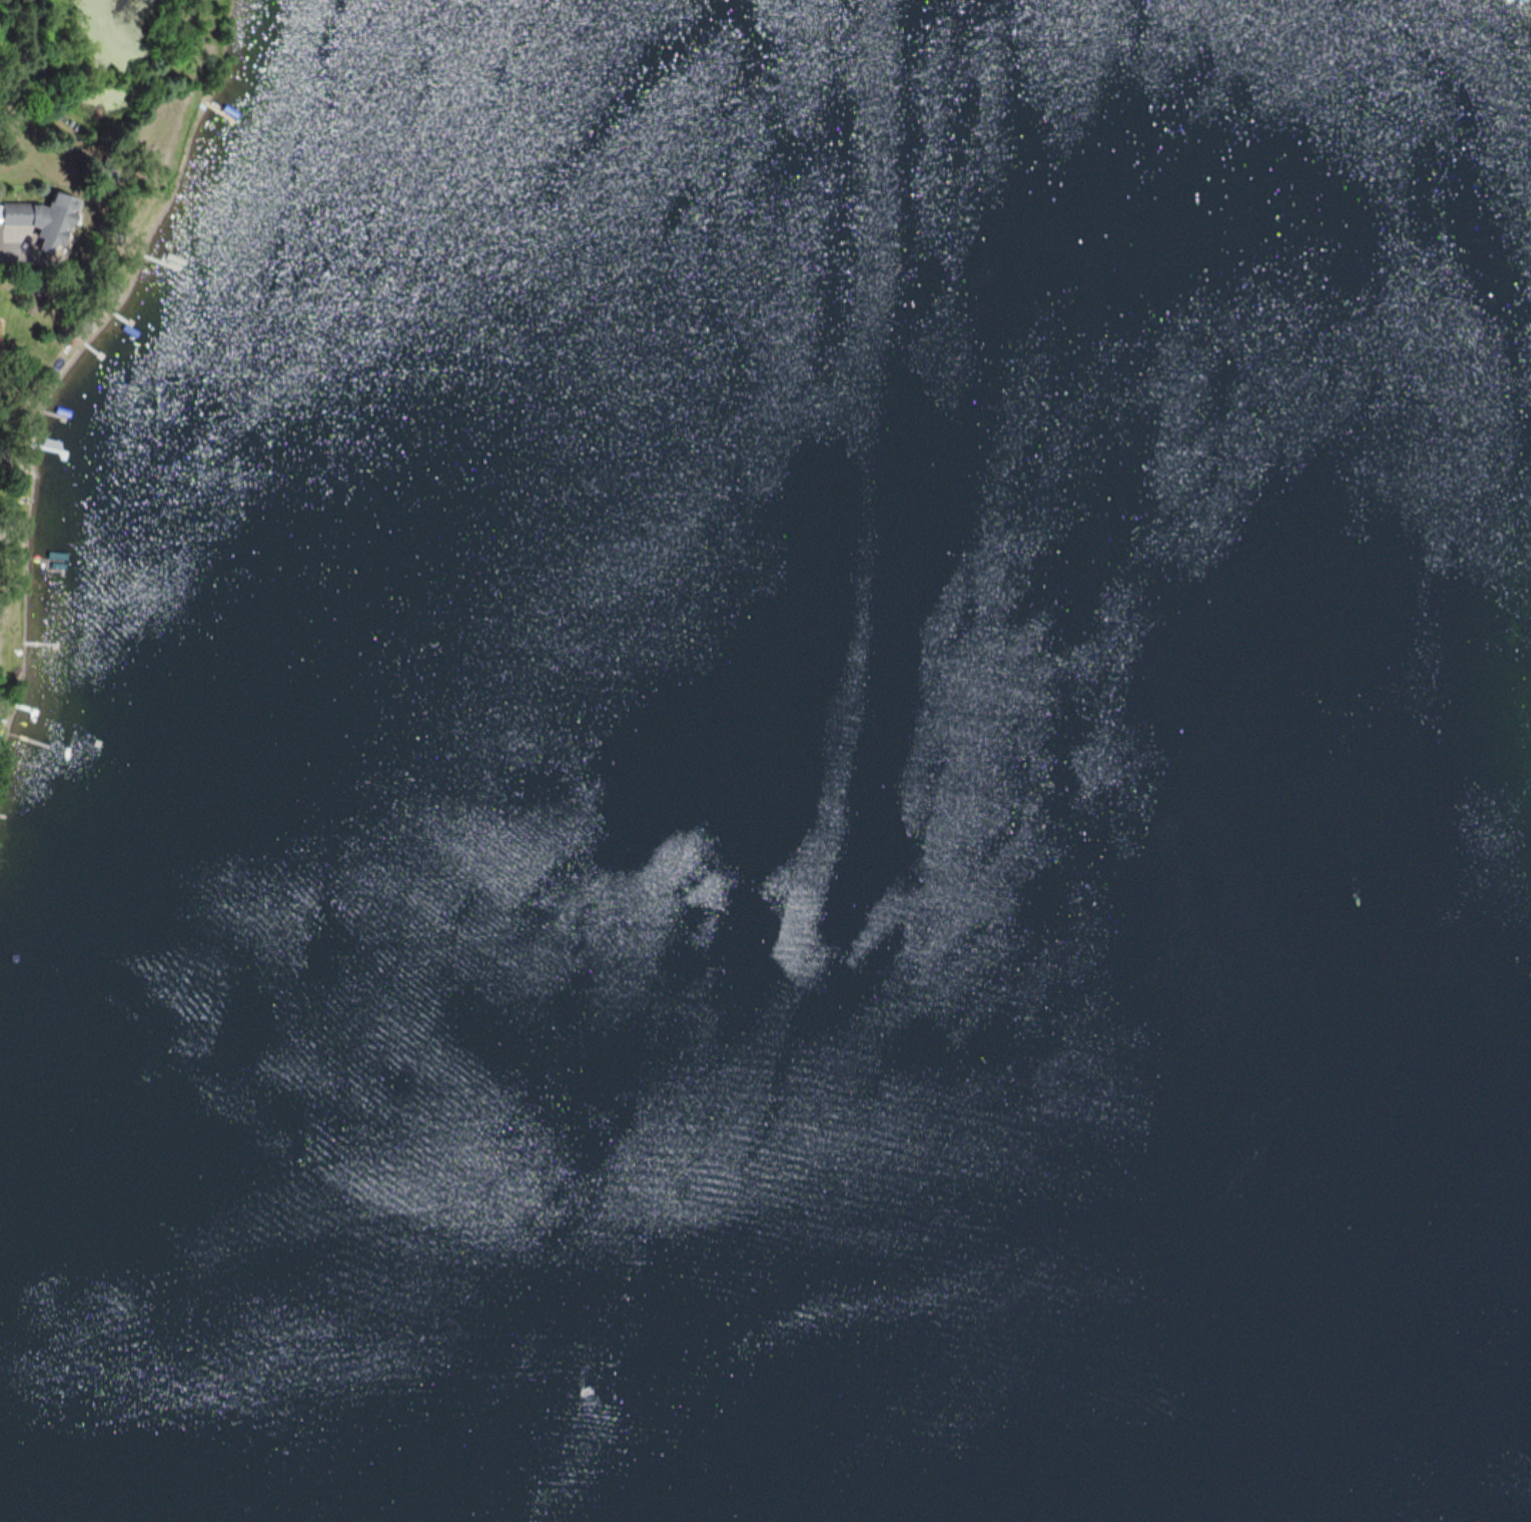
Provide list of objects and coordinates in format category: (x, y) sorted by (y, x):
building: (44, 221)
road: (8, 262)

